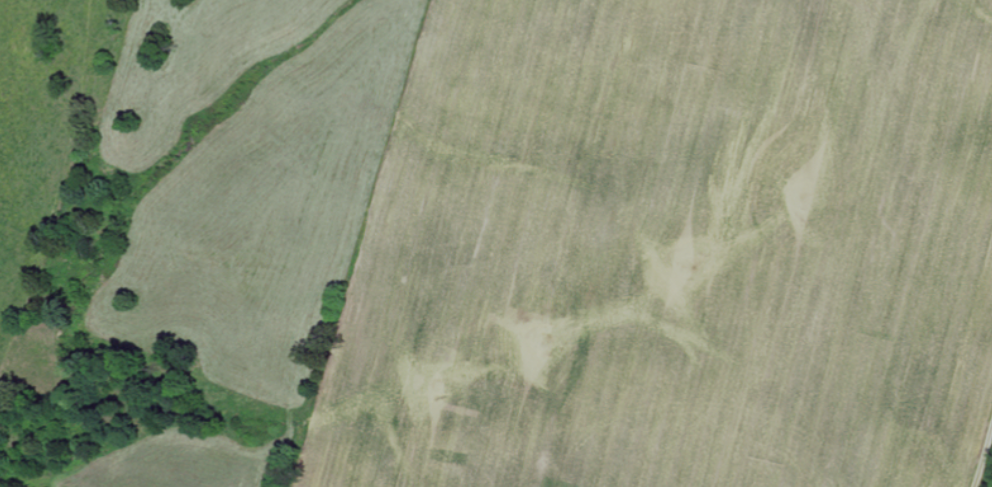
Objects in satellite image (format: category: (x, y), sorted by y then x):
road: (984, 462)

